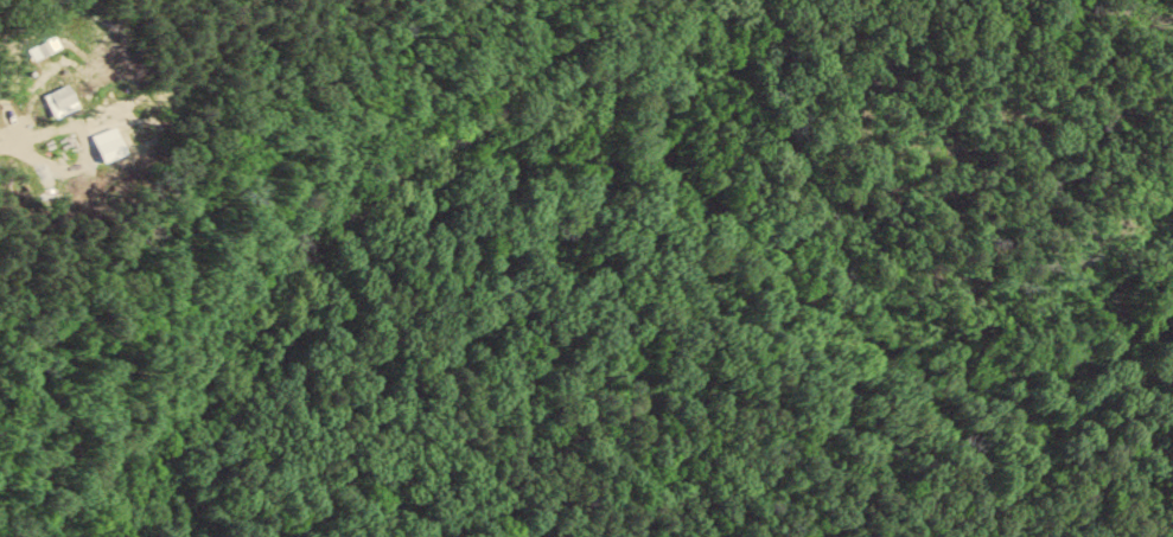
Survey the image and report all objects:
building: (47, 47)
building: (64, 100)

